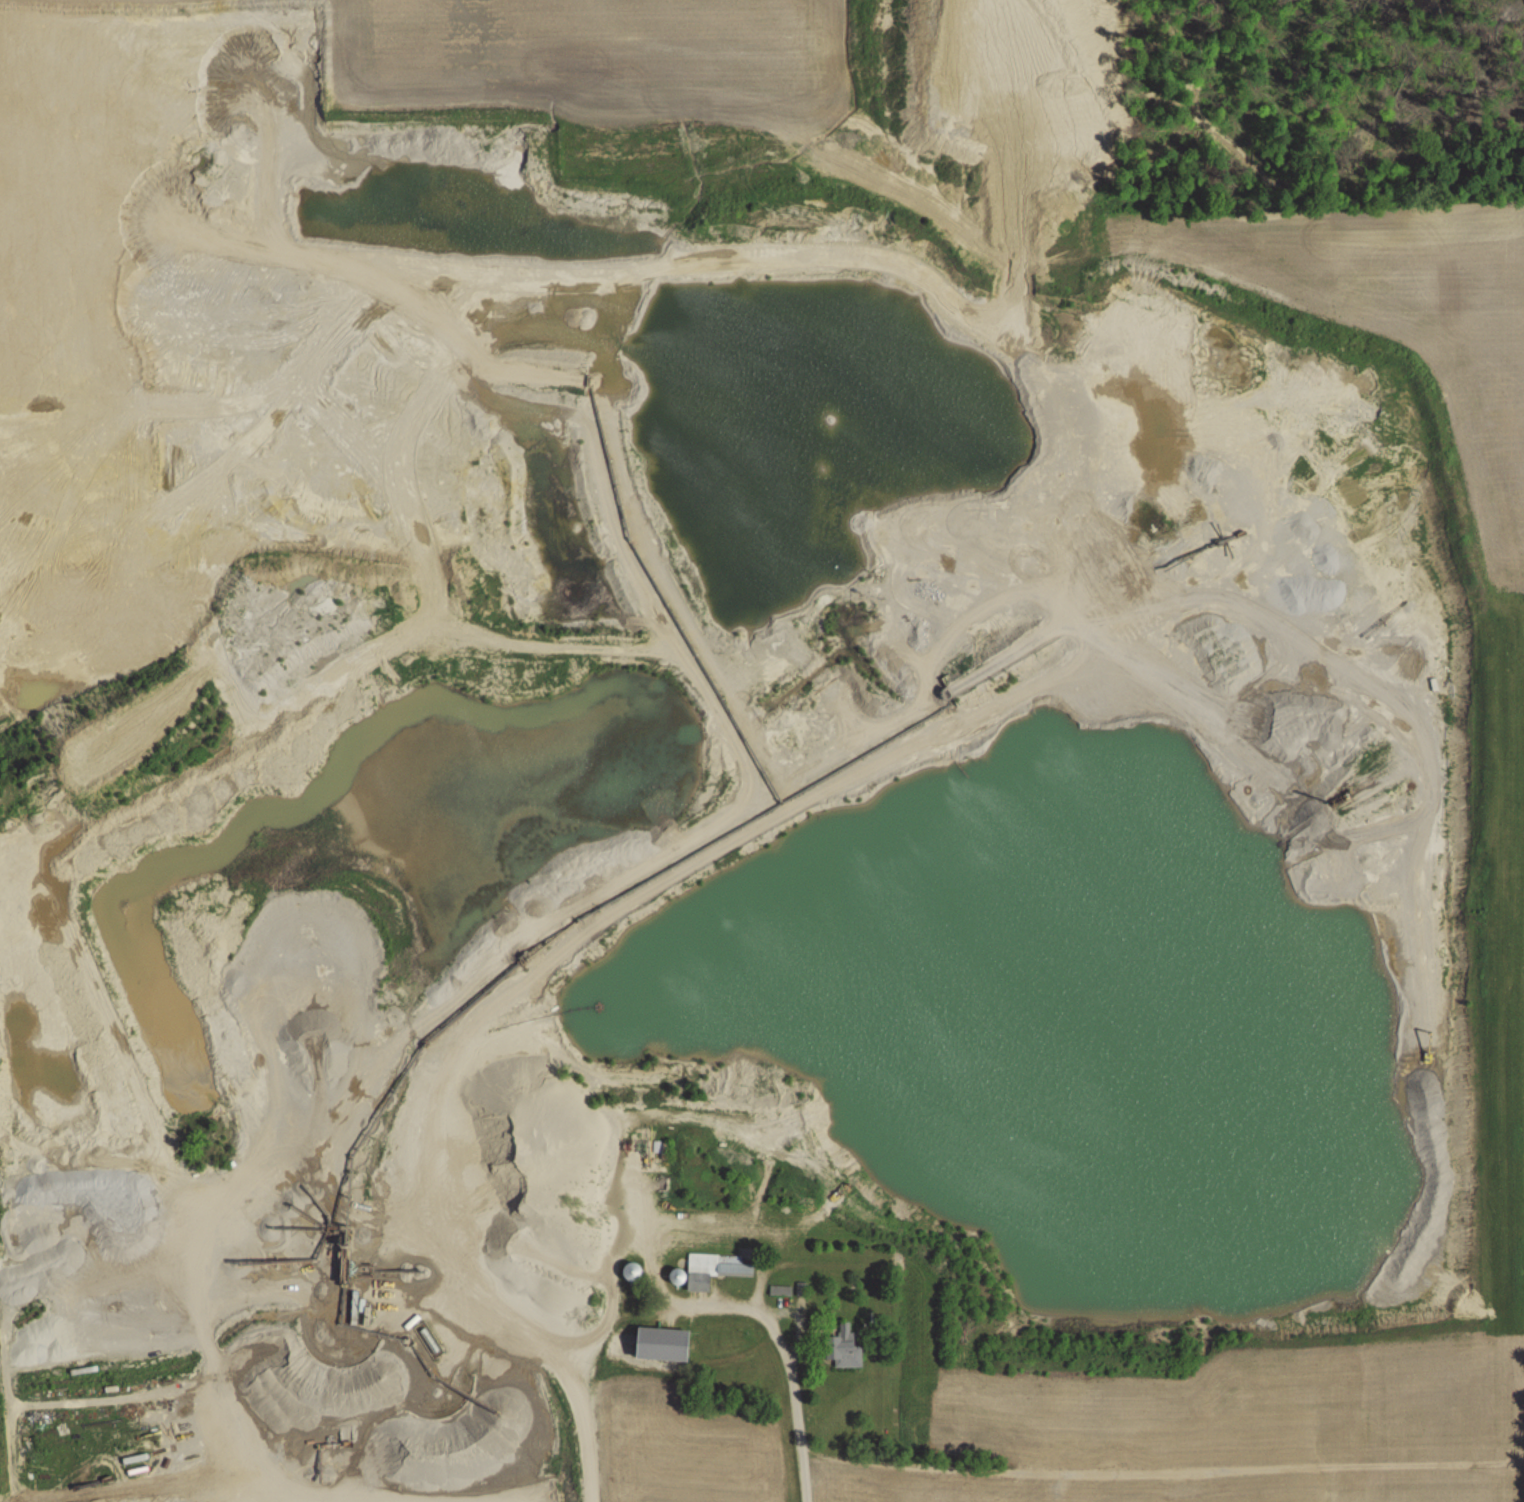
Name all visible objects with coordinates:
building: (713, 1270)
building: (631, 1273)
building: (676, 1277)
building: (661, 1346)
building: (843, 1348)
road: (787, 1369)
building: (249, 1501)

